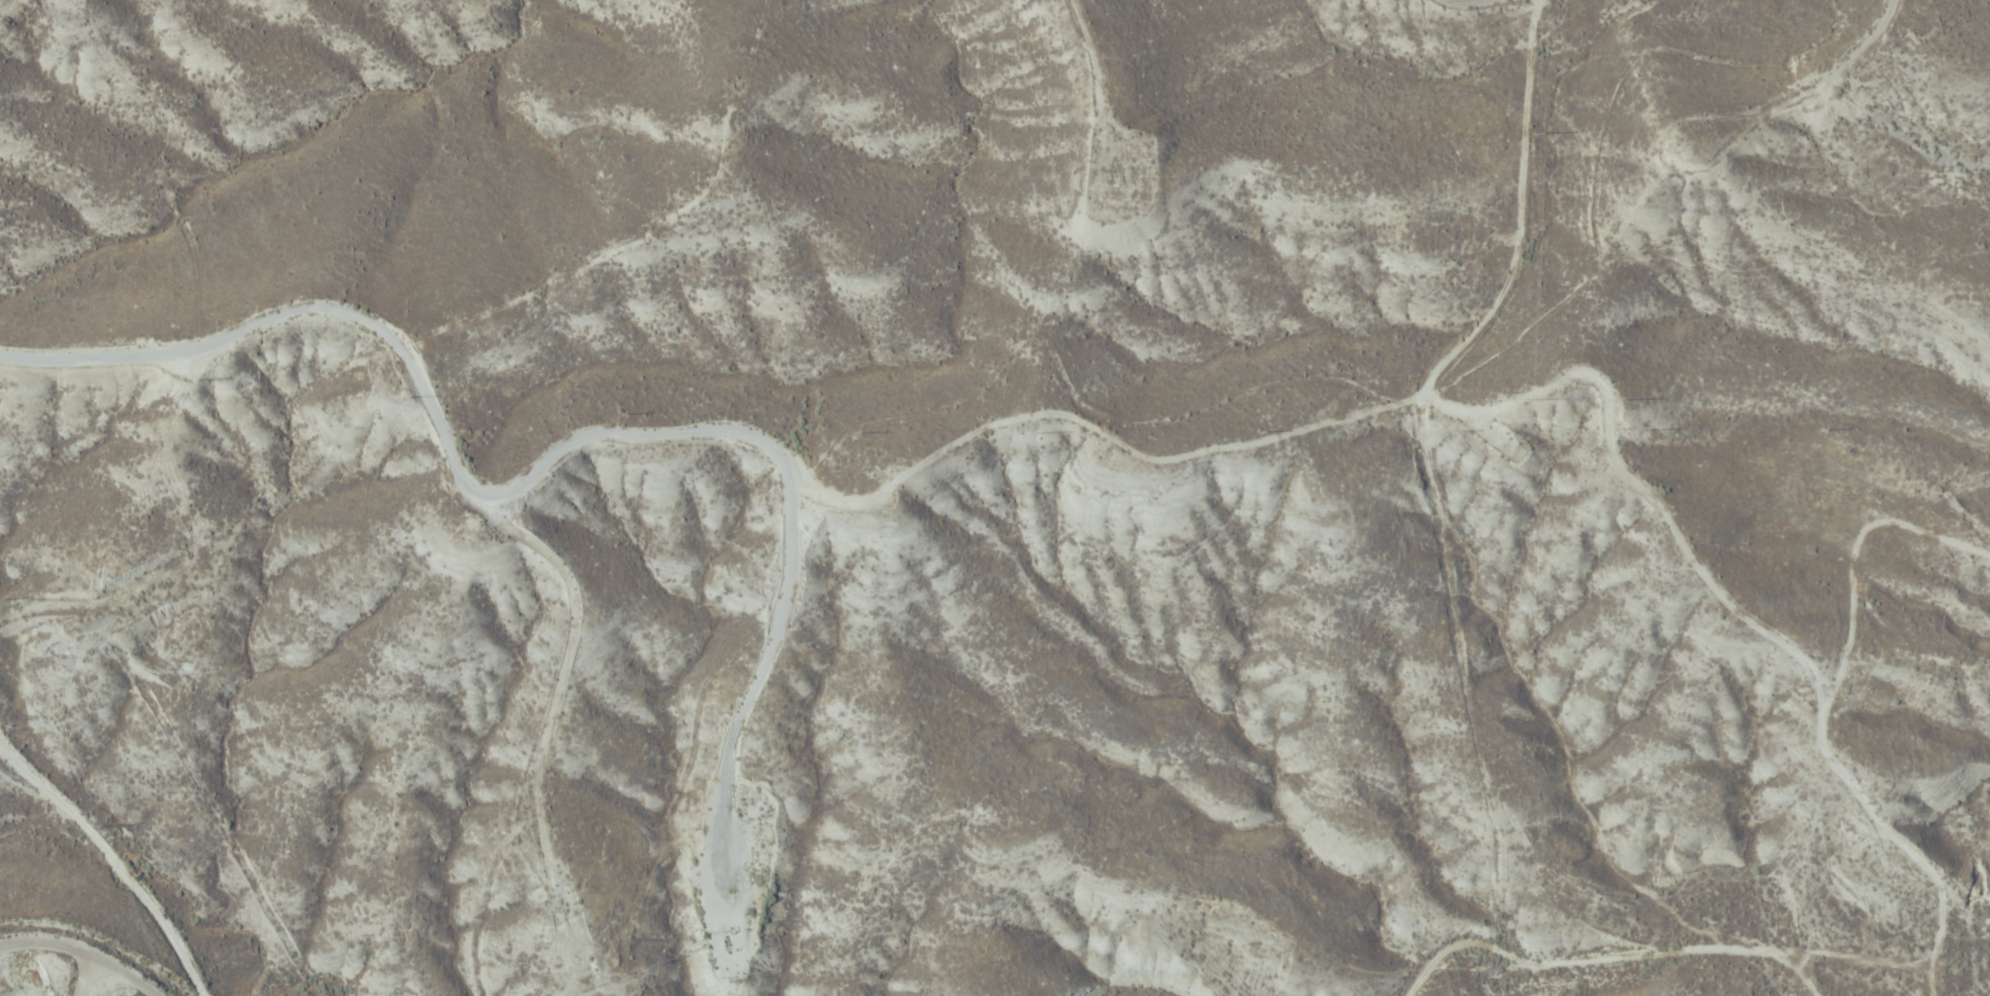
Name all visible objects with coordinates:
road: (85, 951)

